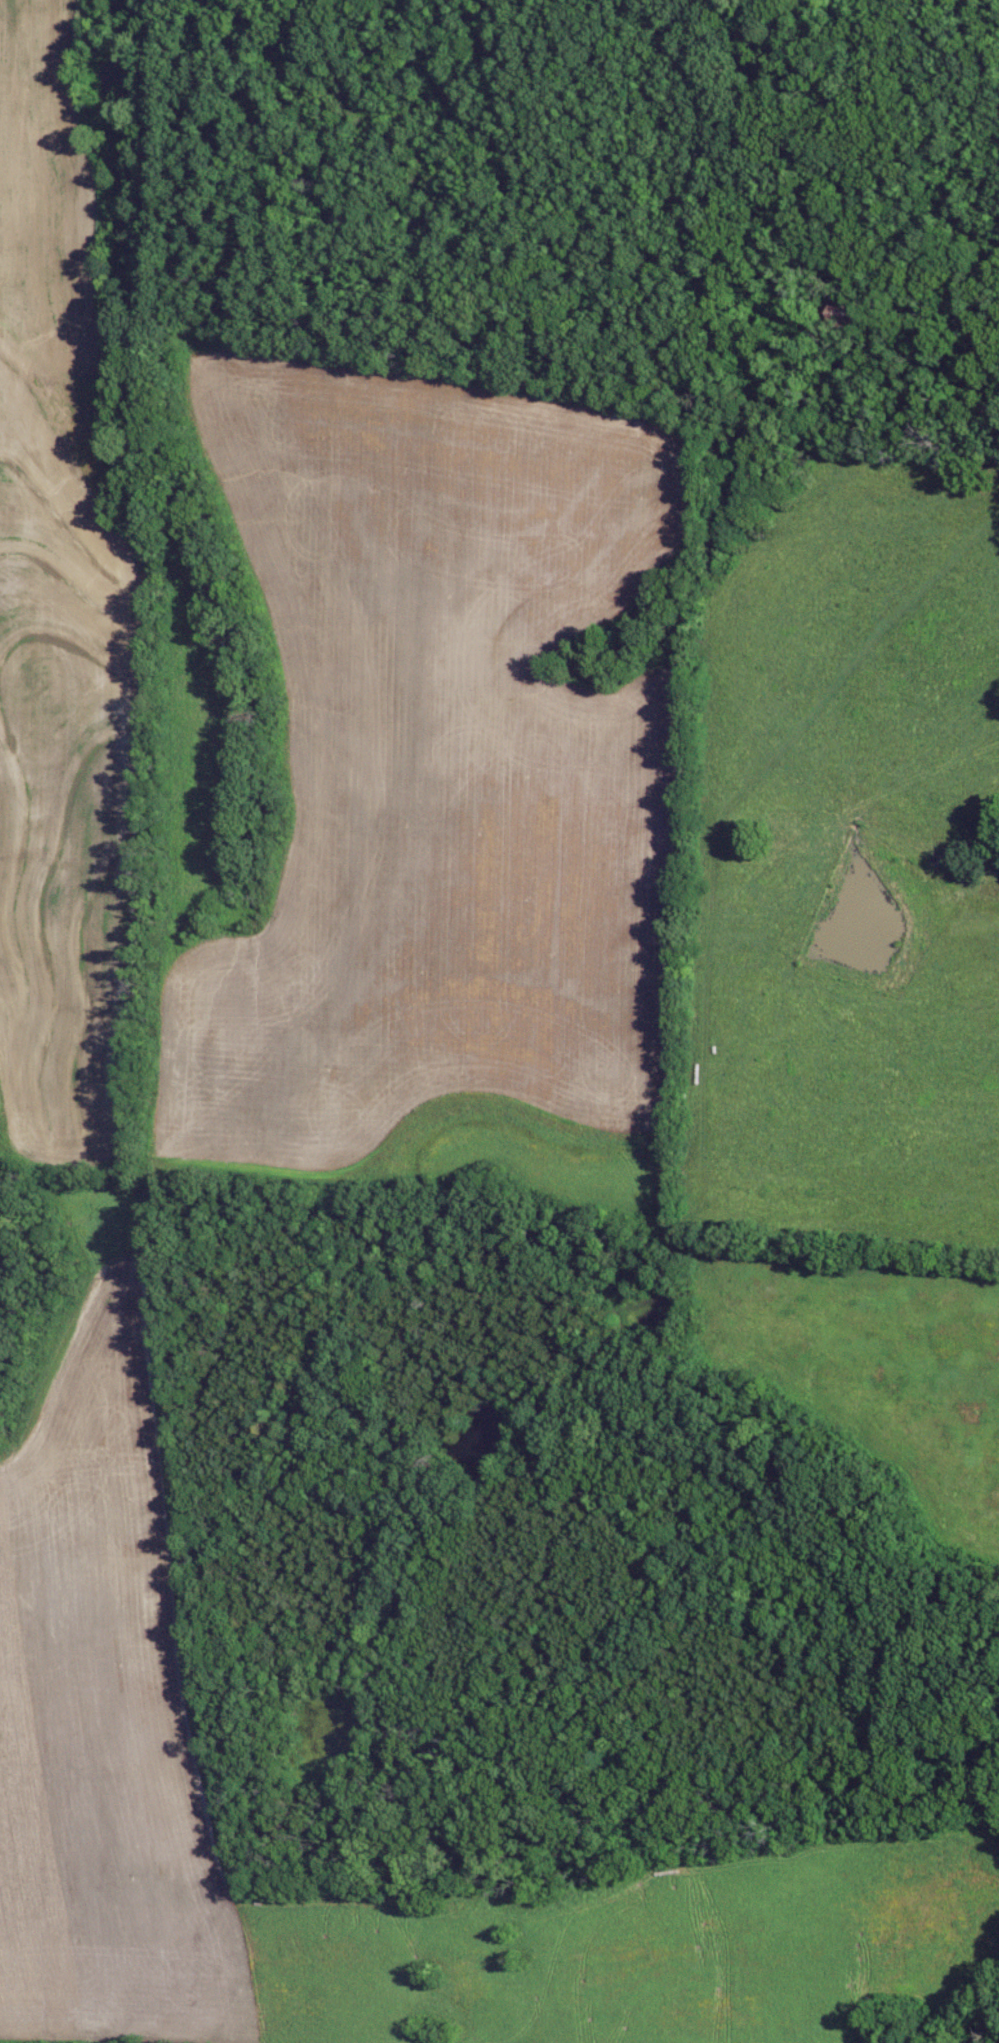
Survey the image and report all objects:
building: (845, 307)

